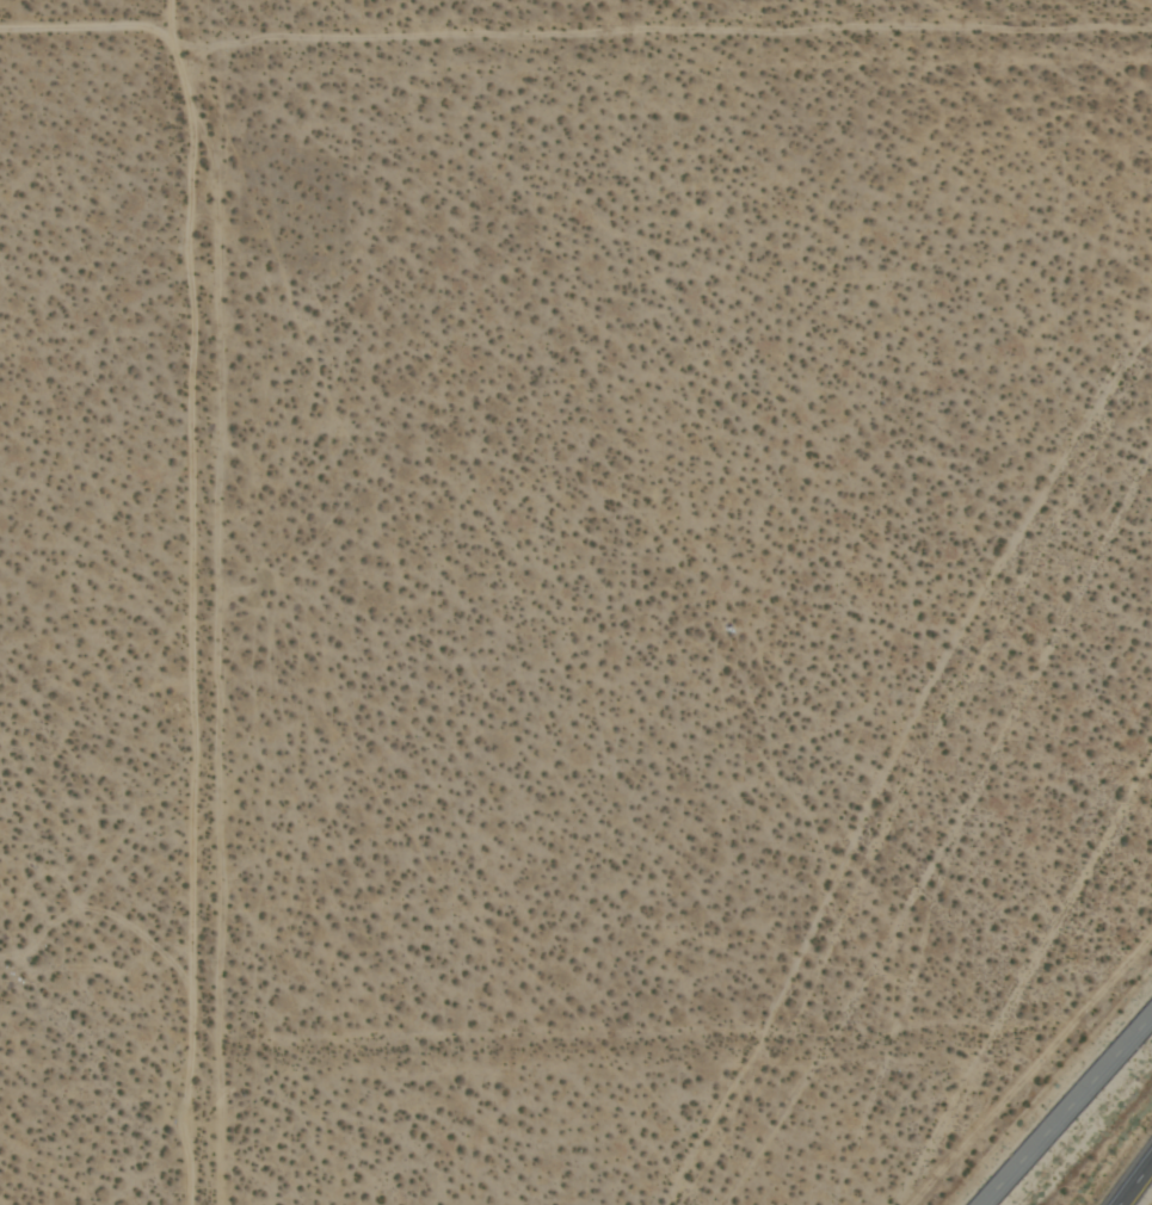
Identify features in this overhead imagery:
road: (573, 33)
road: (217, 599)
road: (192, 654)
road: (1068, 1111)
road: (1135, 1182)

